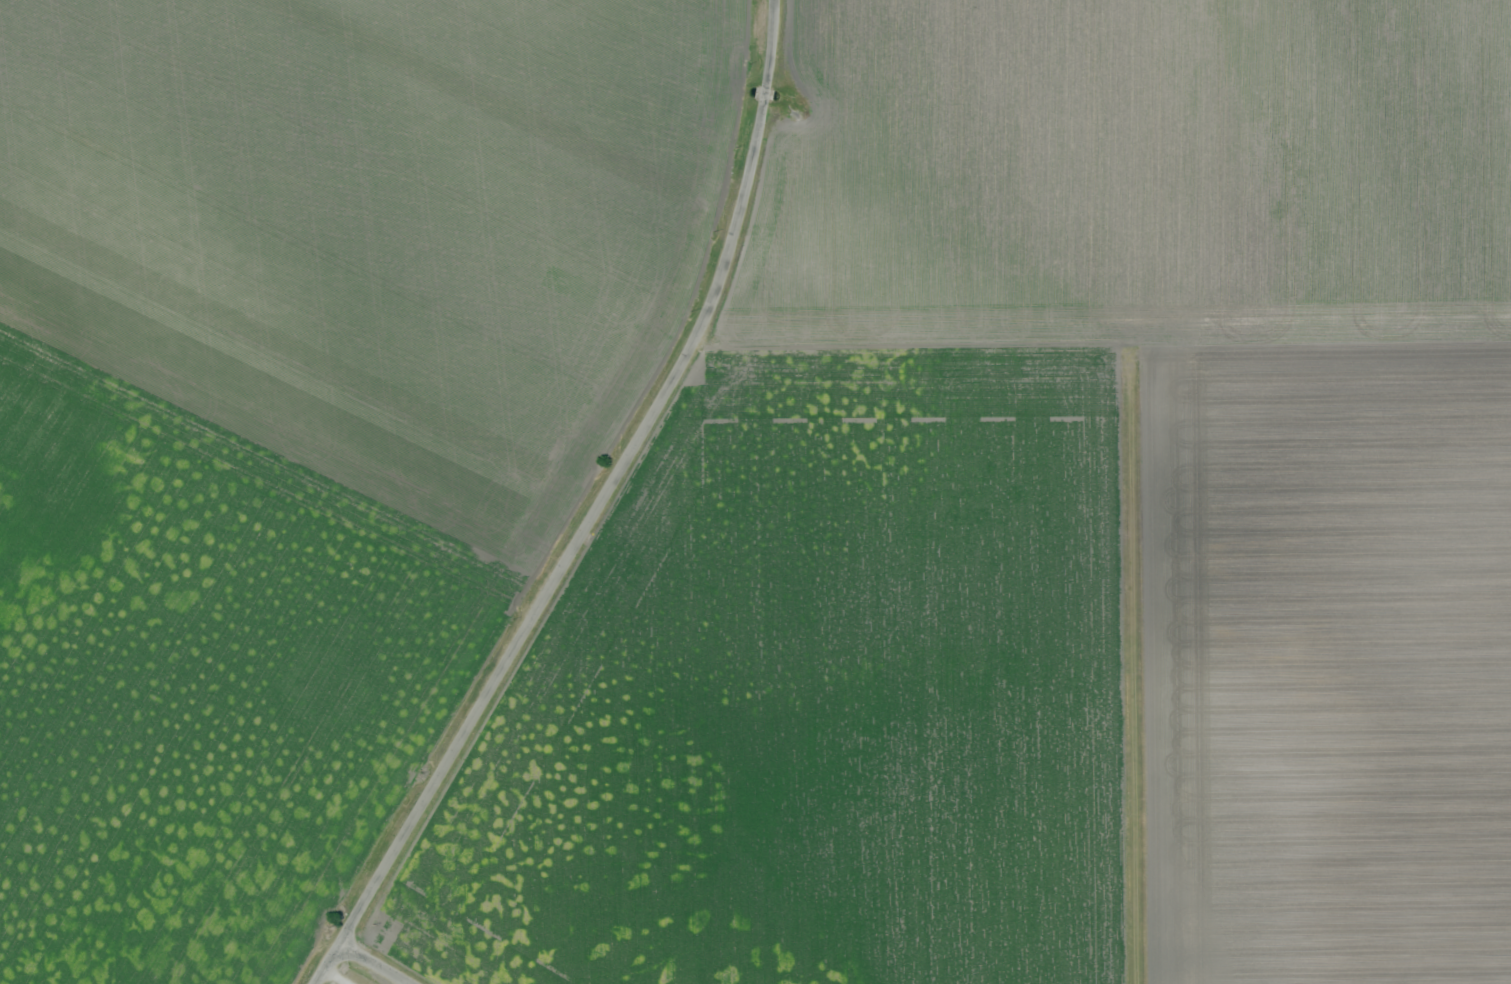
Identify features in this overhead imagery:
road: (608, 491)
road: (331, 965)
road: (375, 965)

